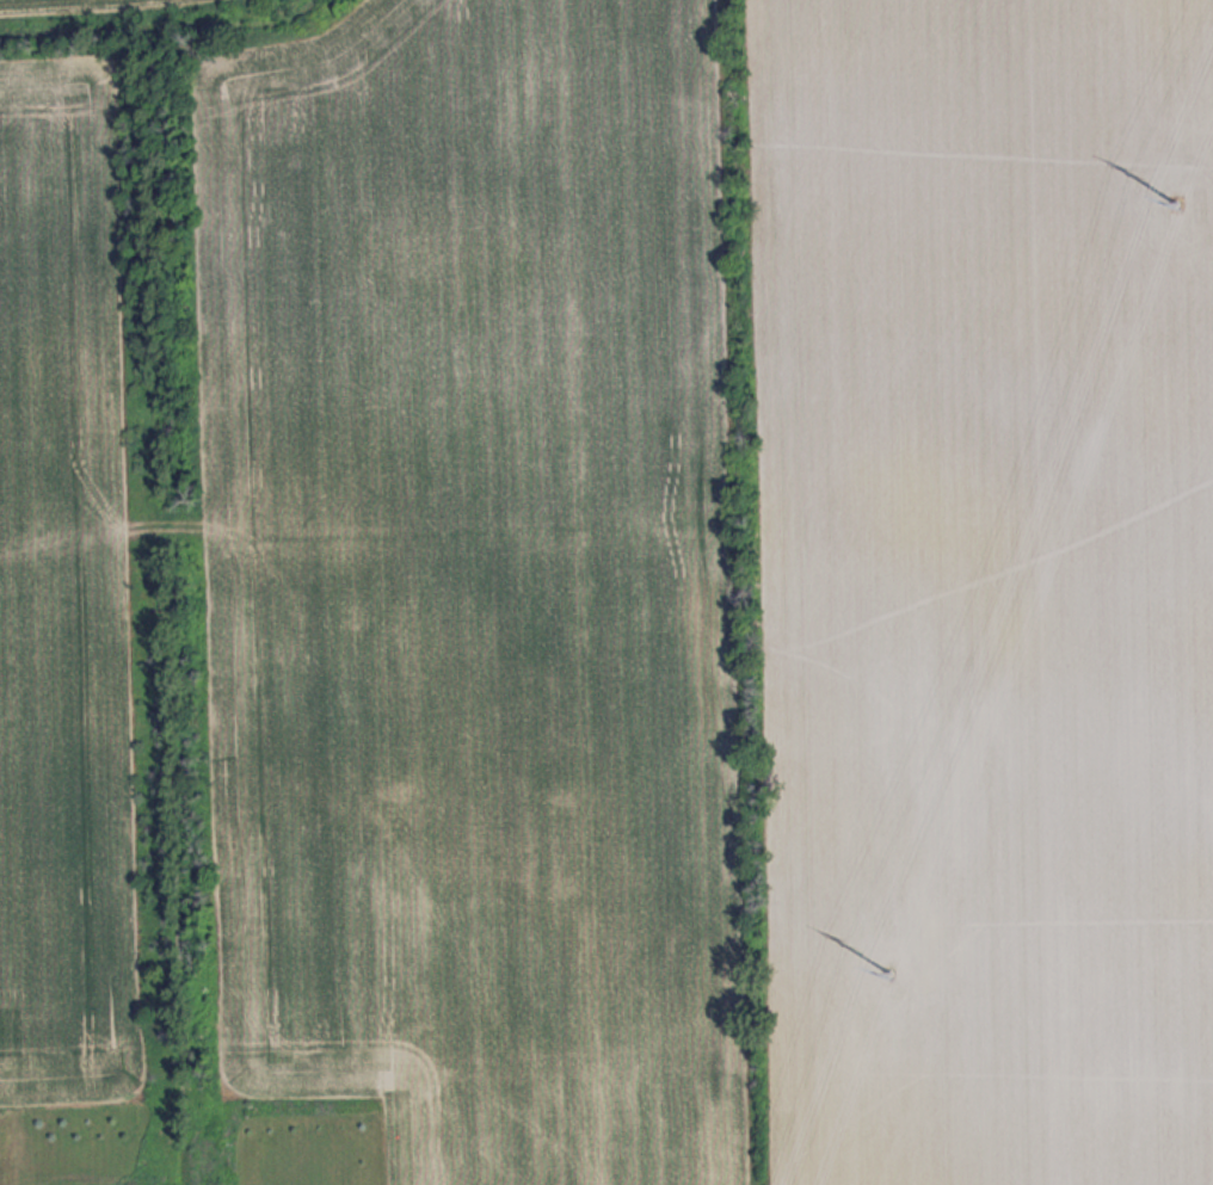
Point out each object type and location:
power tower: (1175, 193)
power tower: (888, 965)

